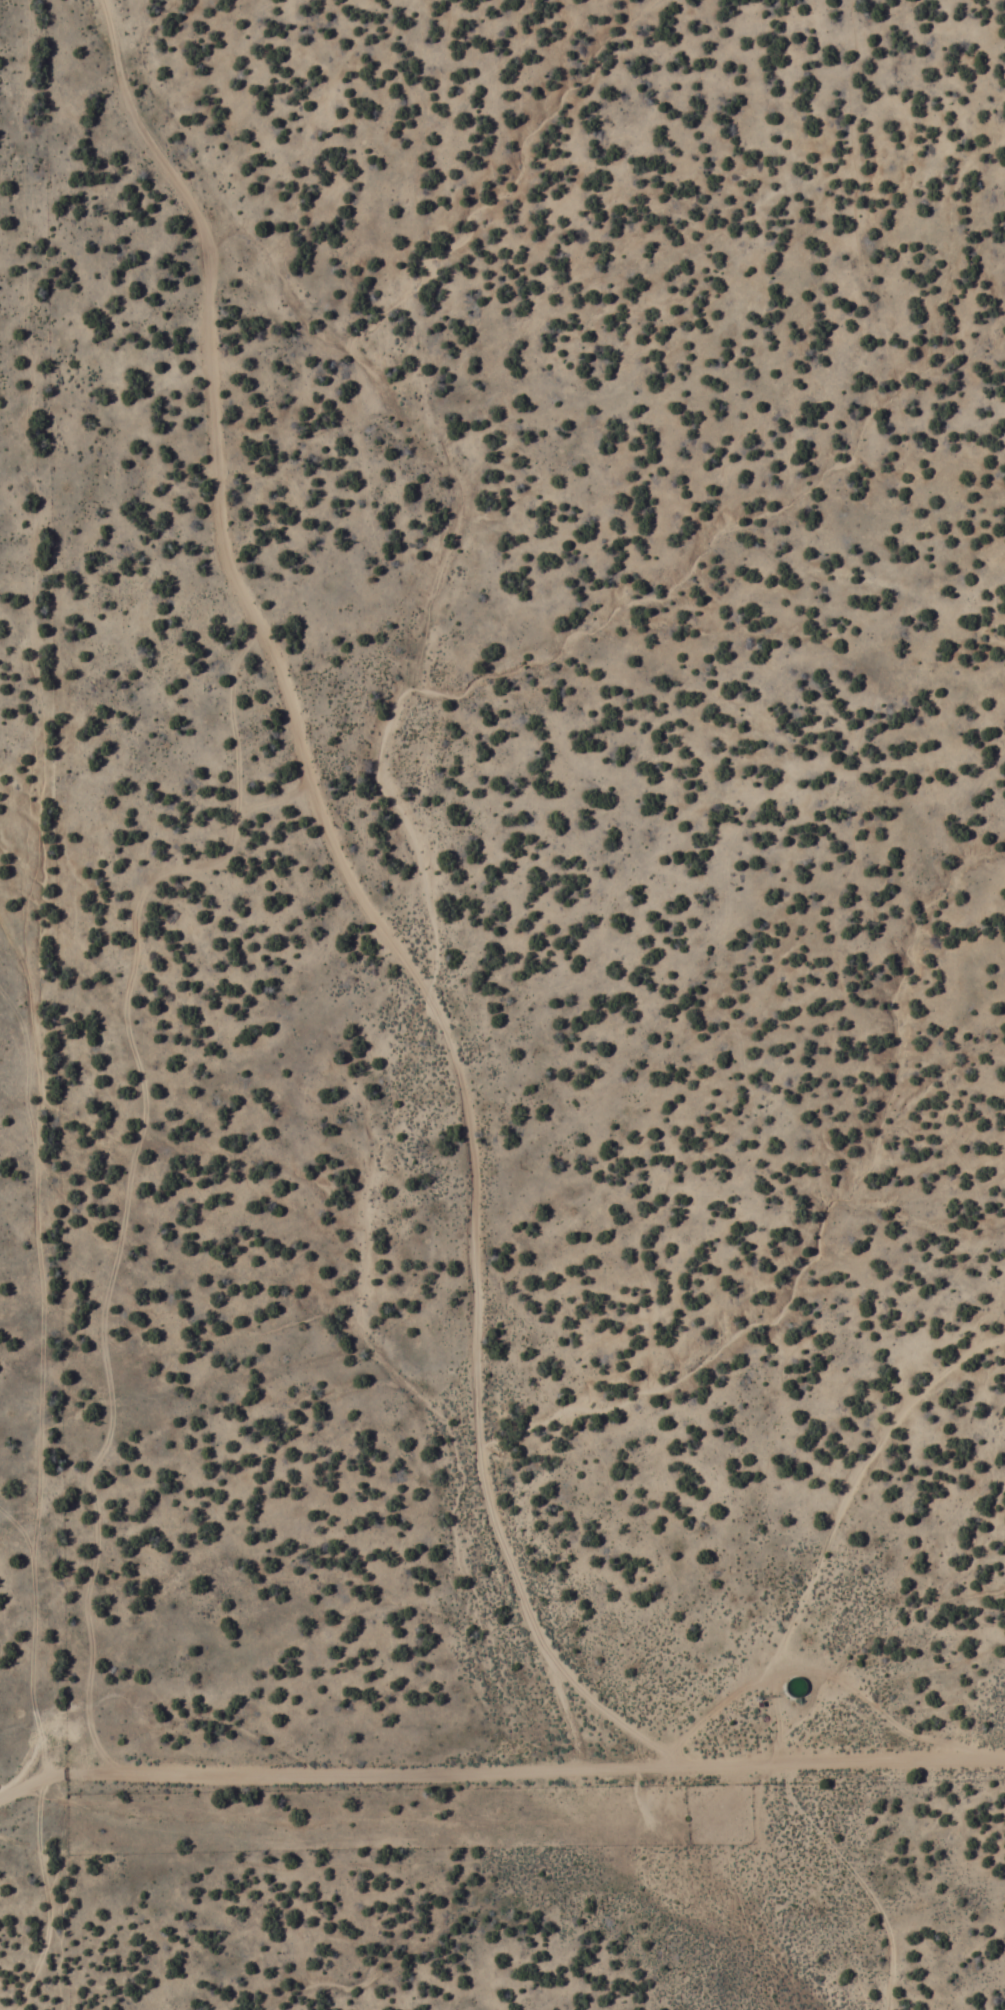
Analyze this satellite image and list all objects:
road: (362, 908)
road: (824, 1532)
building: (791, 1687)
road: (840, 1762)
road: (336, 1776)

